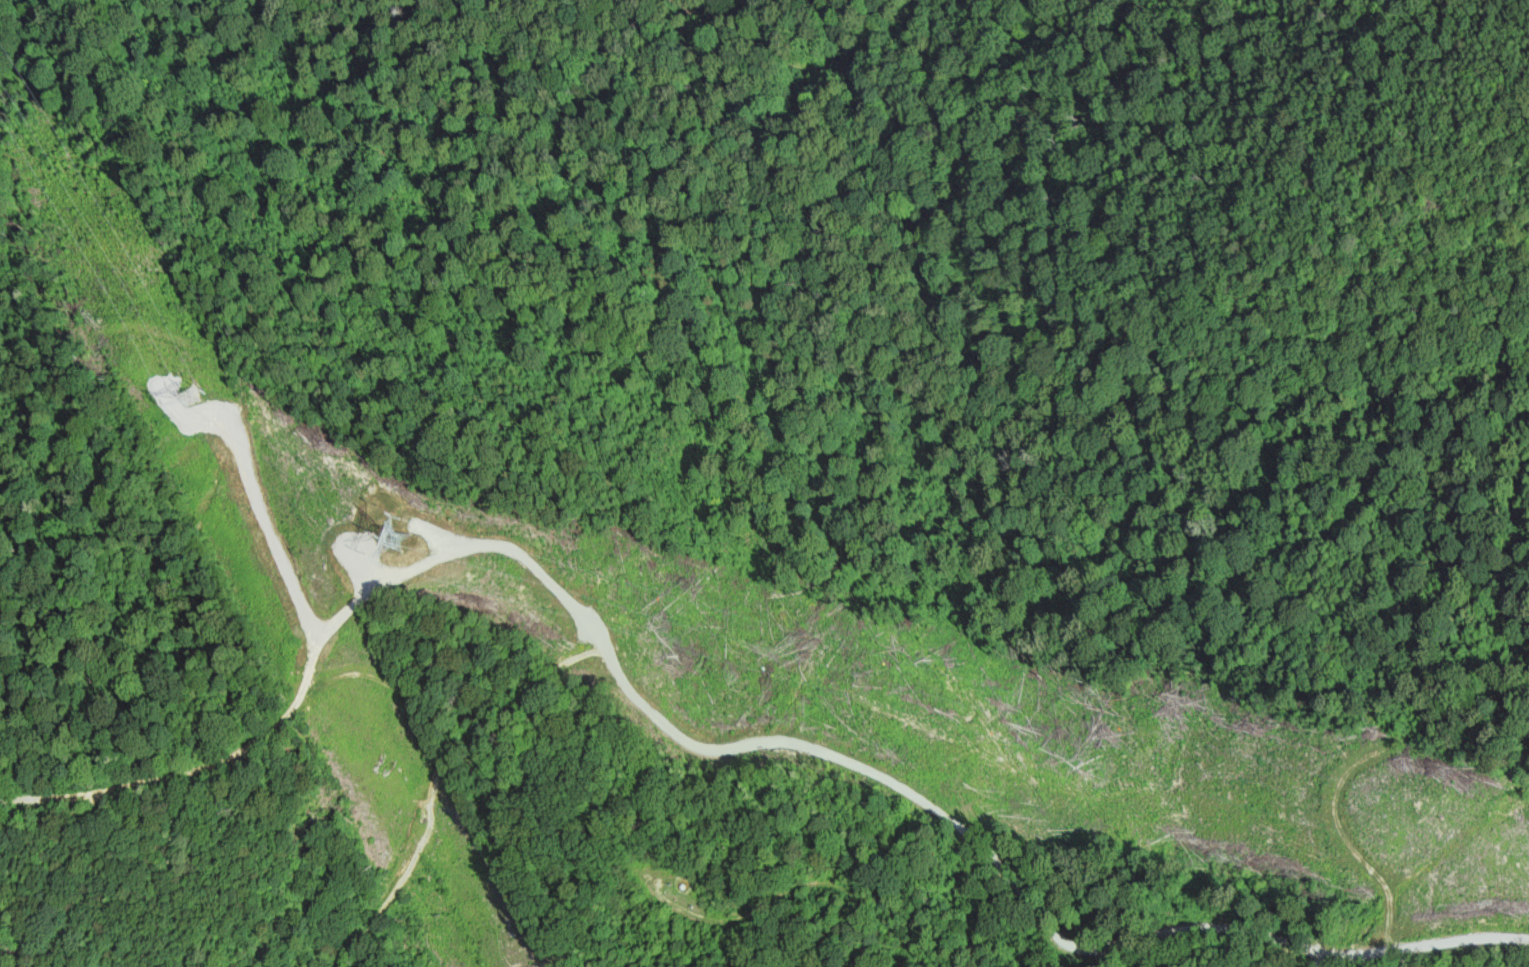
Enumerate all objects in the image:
road: (781, 793)
road: (372, 848)

